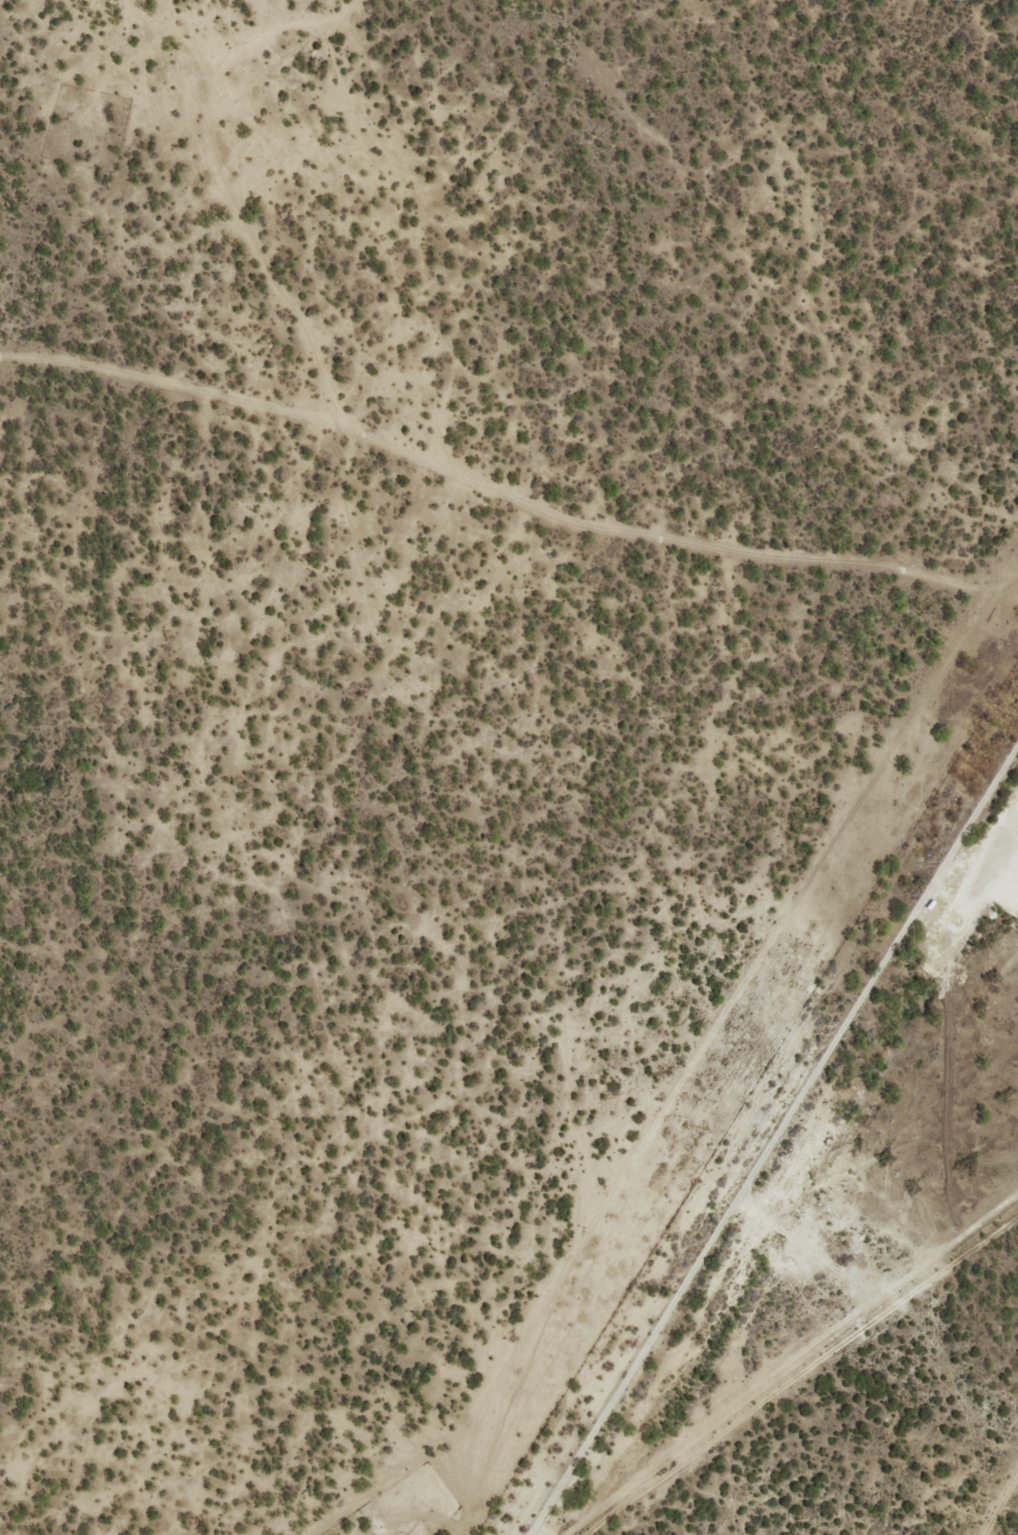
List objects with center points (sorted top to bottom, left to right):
road: (235, 52)
road: (468, 513)
railway: (778, 1151)

